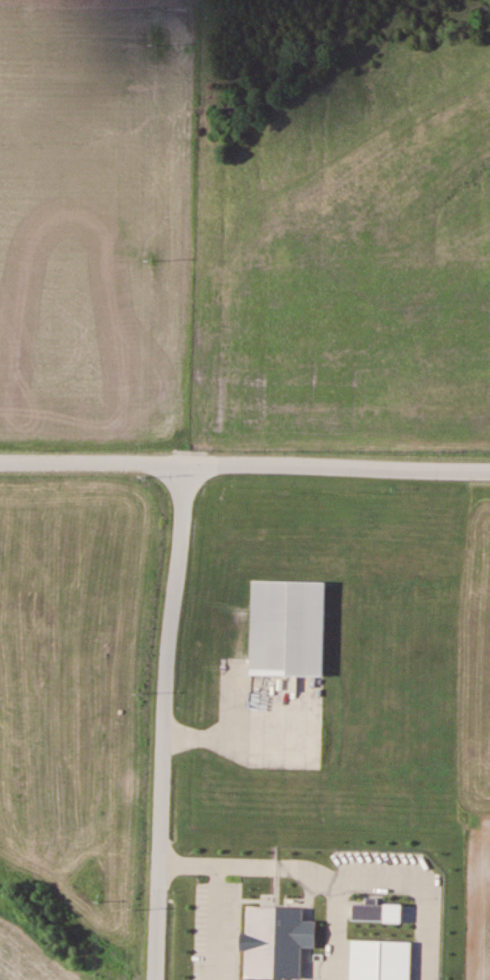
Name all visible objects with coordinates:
road: (244, 459)
building: (289, 622)
road: (165, 719)

